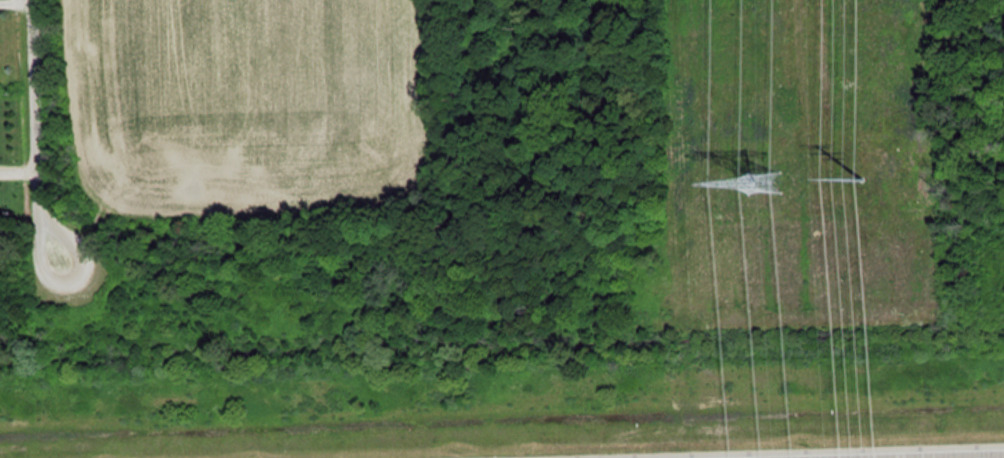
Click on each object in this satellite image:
road: (29, 146)
power tower: (865, 174)
power tower: (757, 195)
road: (962, 456)

